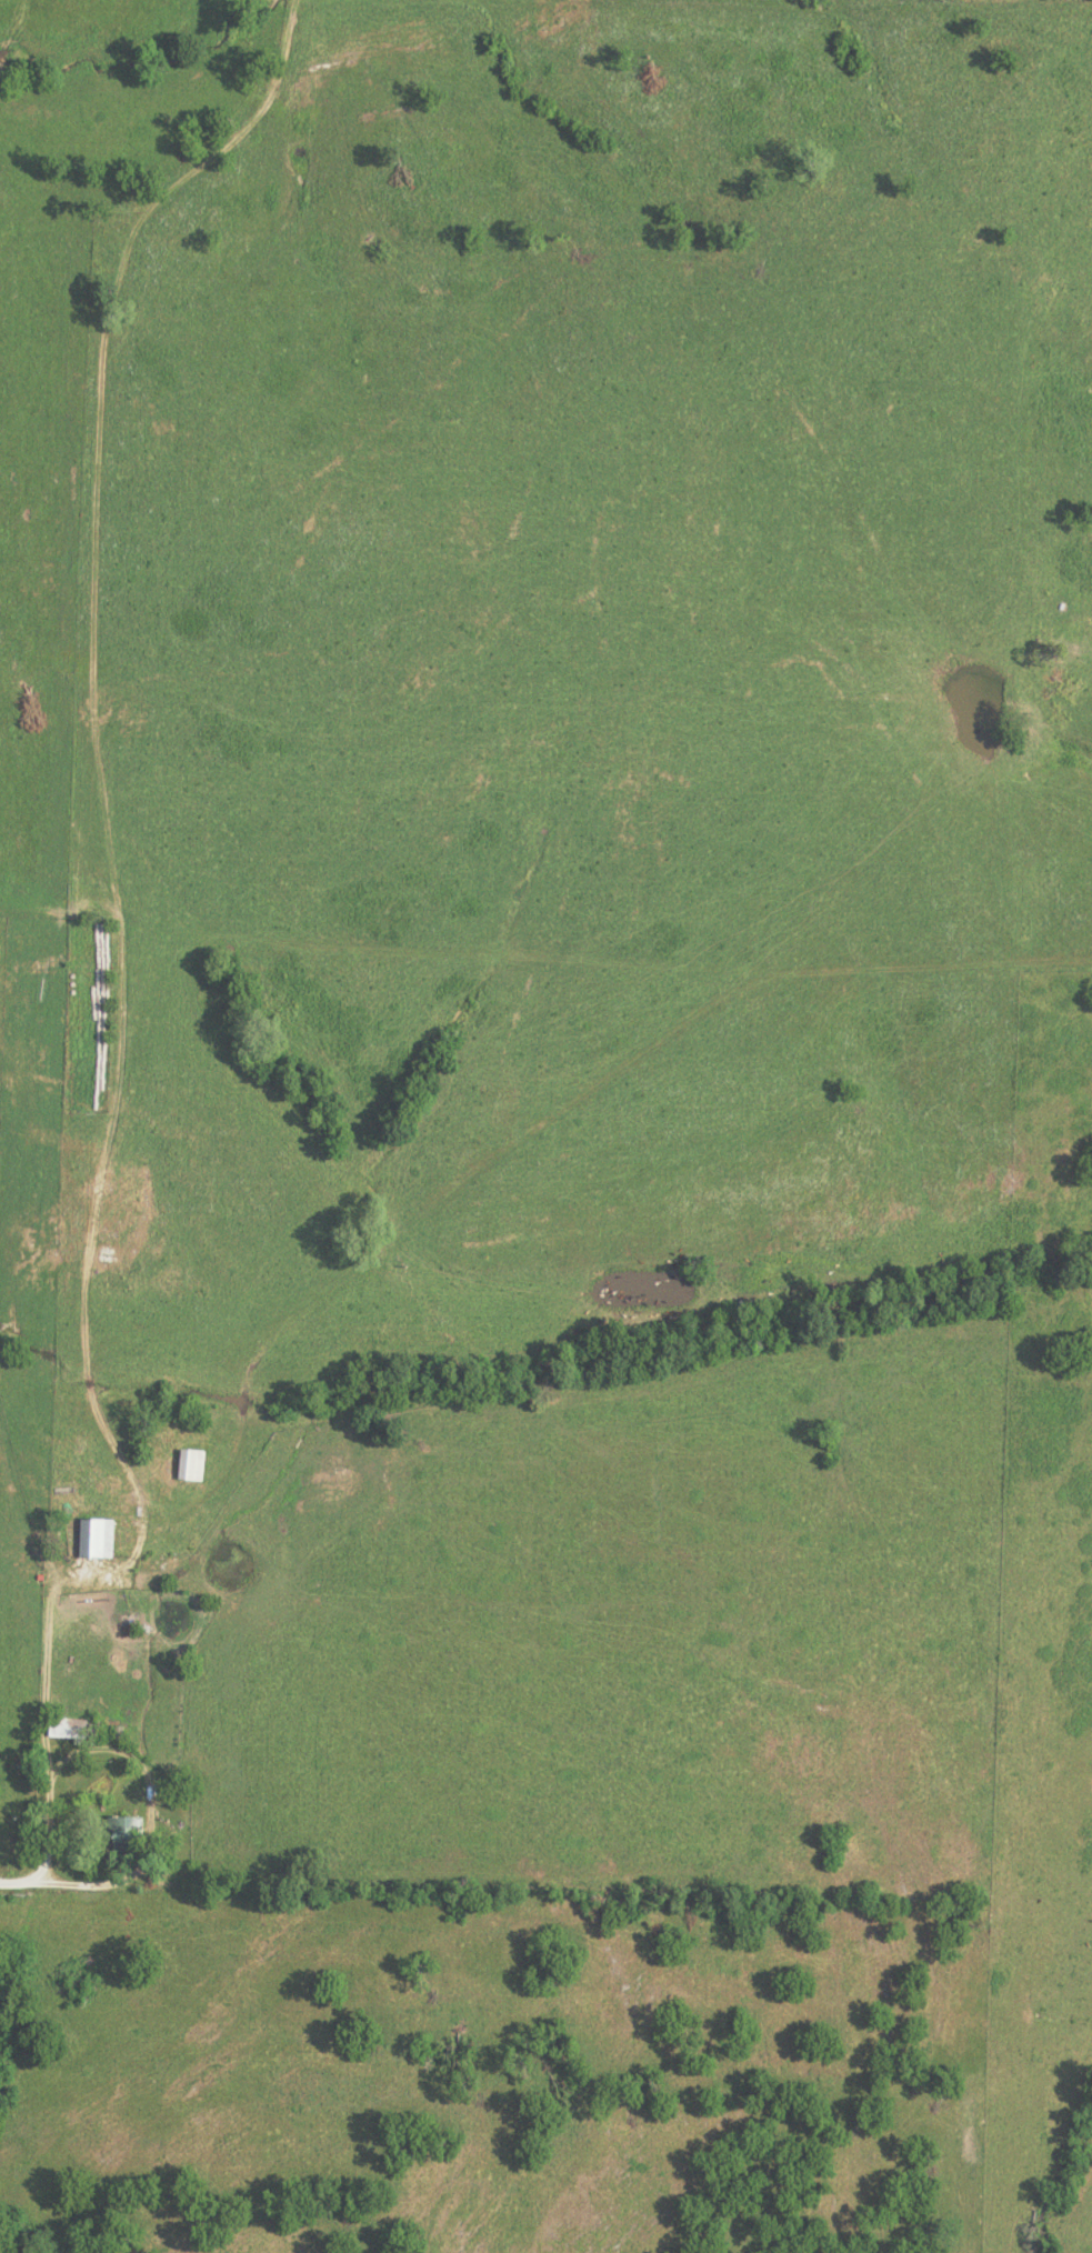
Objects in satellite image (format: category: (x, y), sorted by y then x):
road: (117, 964)
road: (538, 1123)
building: (189, 1468)
building: (93, 1541)
road: (151, 1811)
building: (120, 1833)

